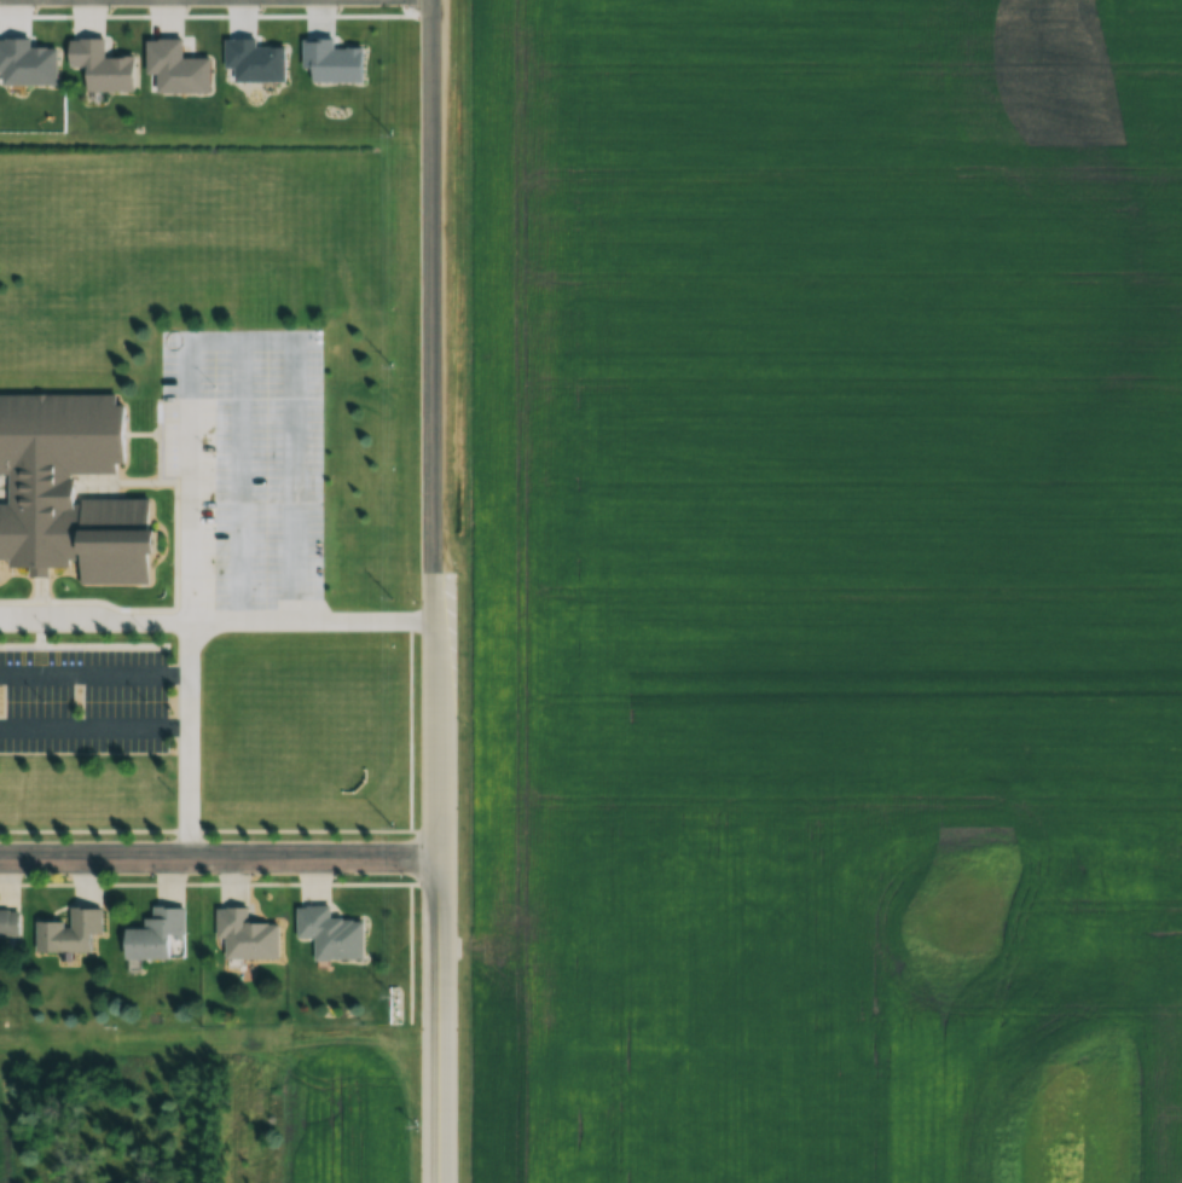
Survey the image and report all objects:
building: (75, 491)
road: (431, 591)
road: (189, 598)
road: (216, 613)
road: (216, 859)
building: (11, 922)
building: (74, 933)
building: (334, 933)
building: (162, 934)
building: (250, 935)

